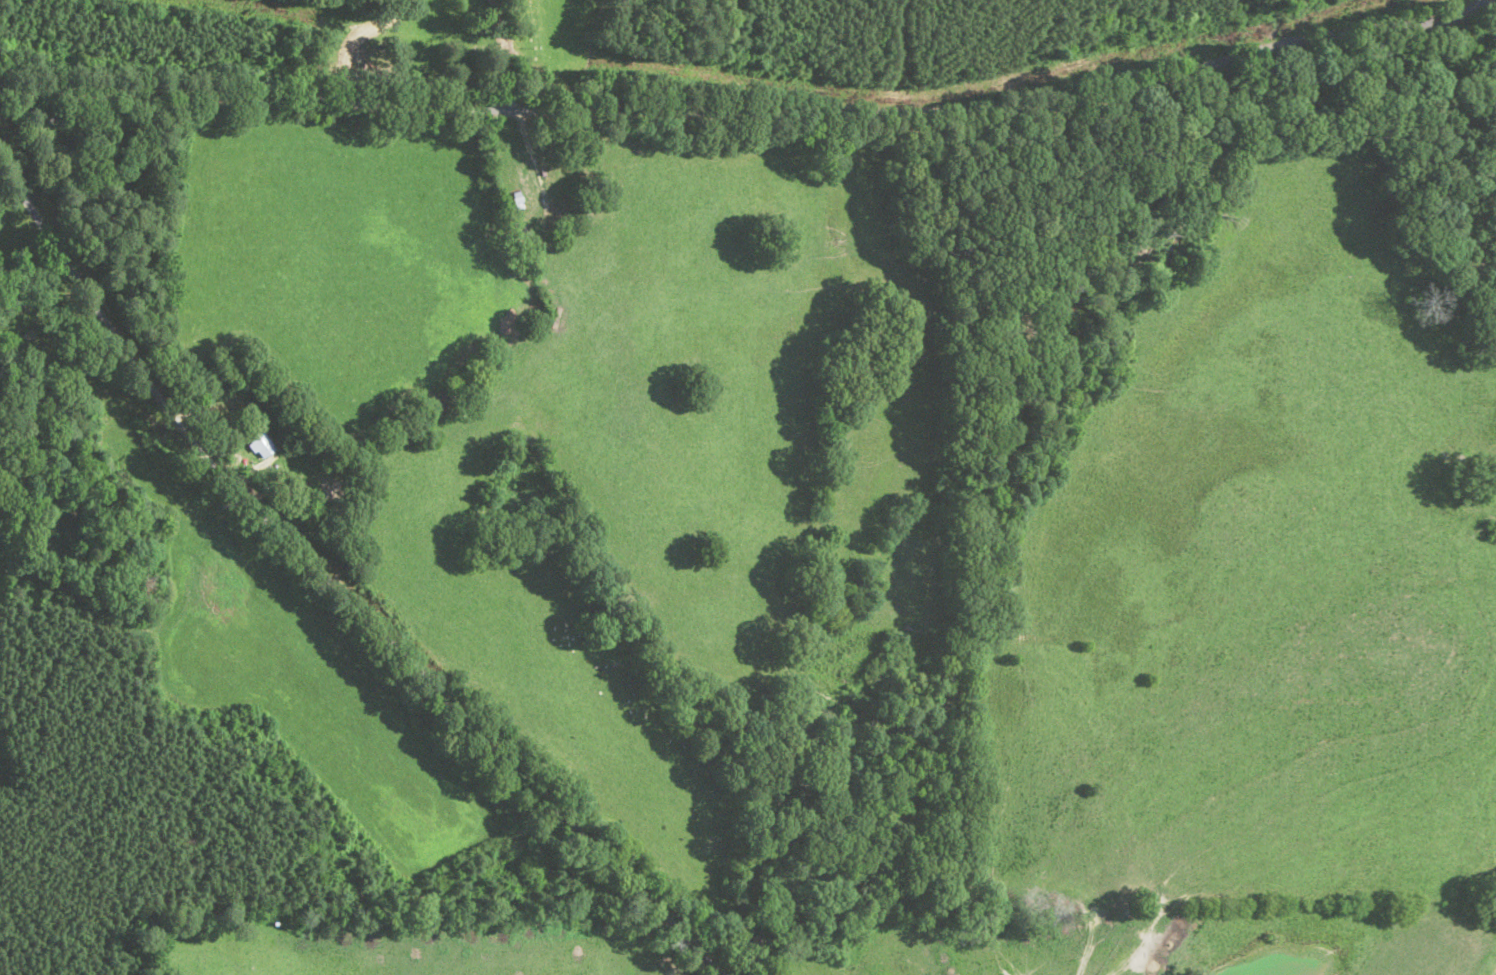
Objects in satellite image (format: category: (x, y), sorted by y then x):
road: (503, 54)
road: (749, 112)
building: (568, 182)
building: (442, 402)
building: (261, 445)
building: (74, 516)
road: (337, 588)

